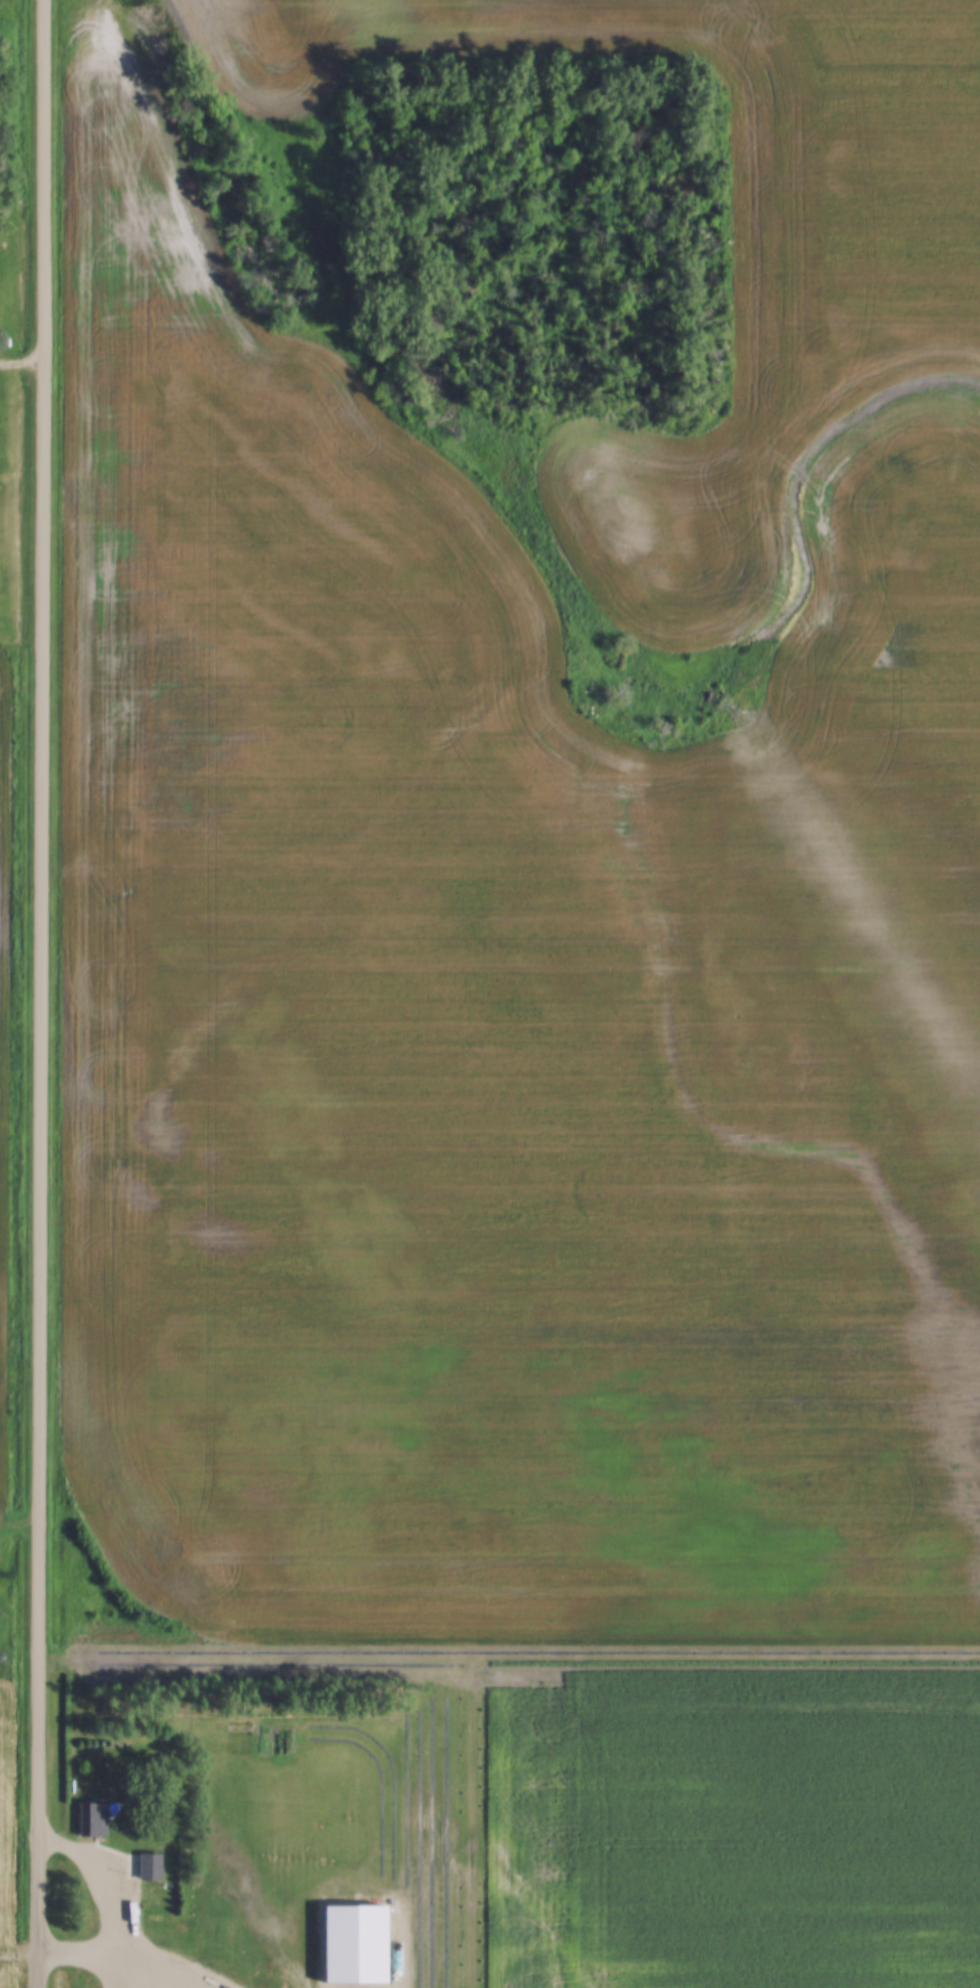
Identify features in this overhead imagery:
road: (23, 361)
road: (42, 993)
building: (94, 1818)
building: (151, 1865)
road: (120, 1910)
road: (21, 1953)

